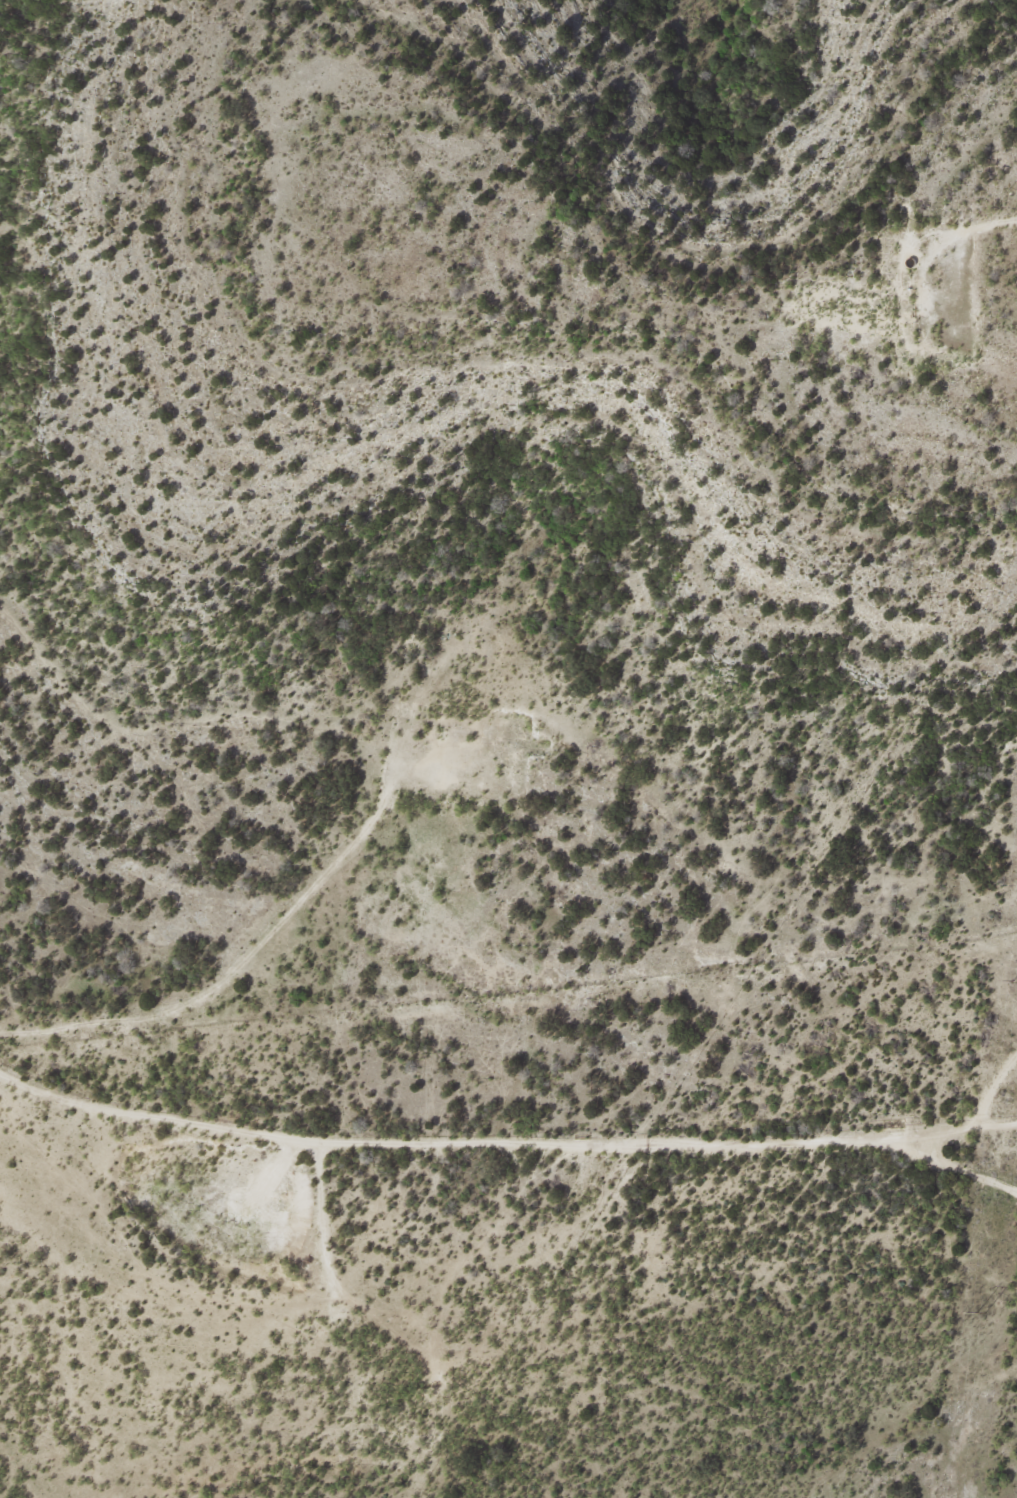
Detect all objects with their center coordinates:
road: (994, 1071)
road: (517, 1118)
road: (333, 1186)
power tower: (983, 1311)

